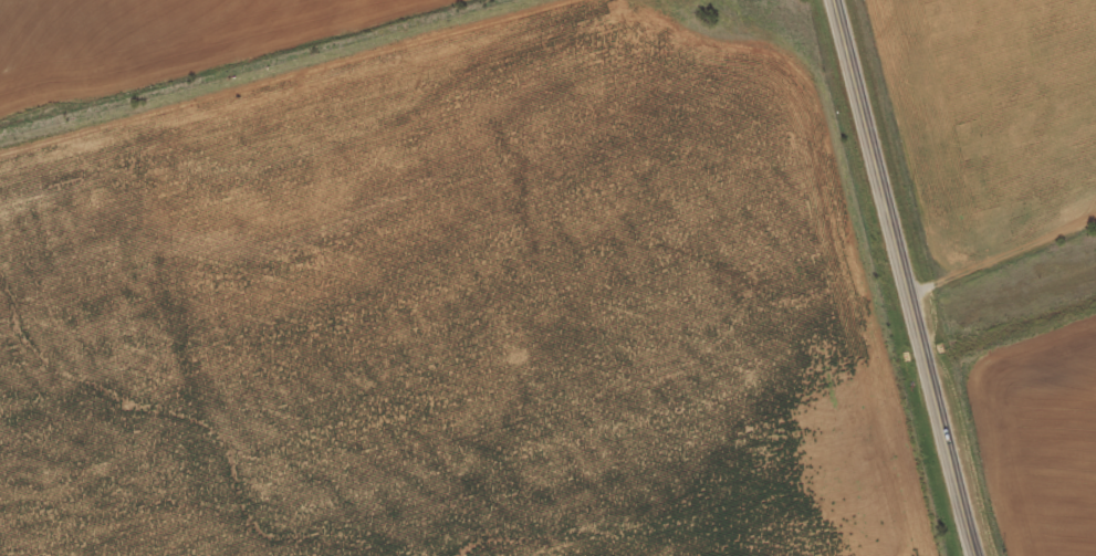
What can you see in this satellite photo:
road: (898, 277)

